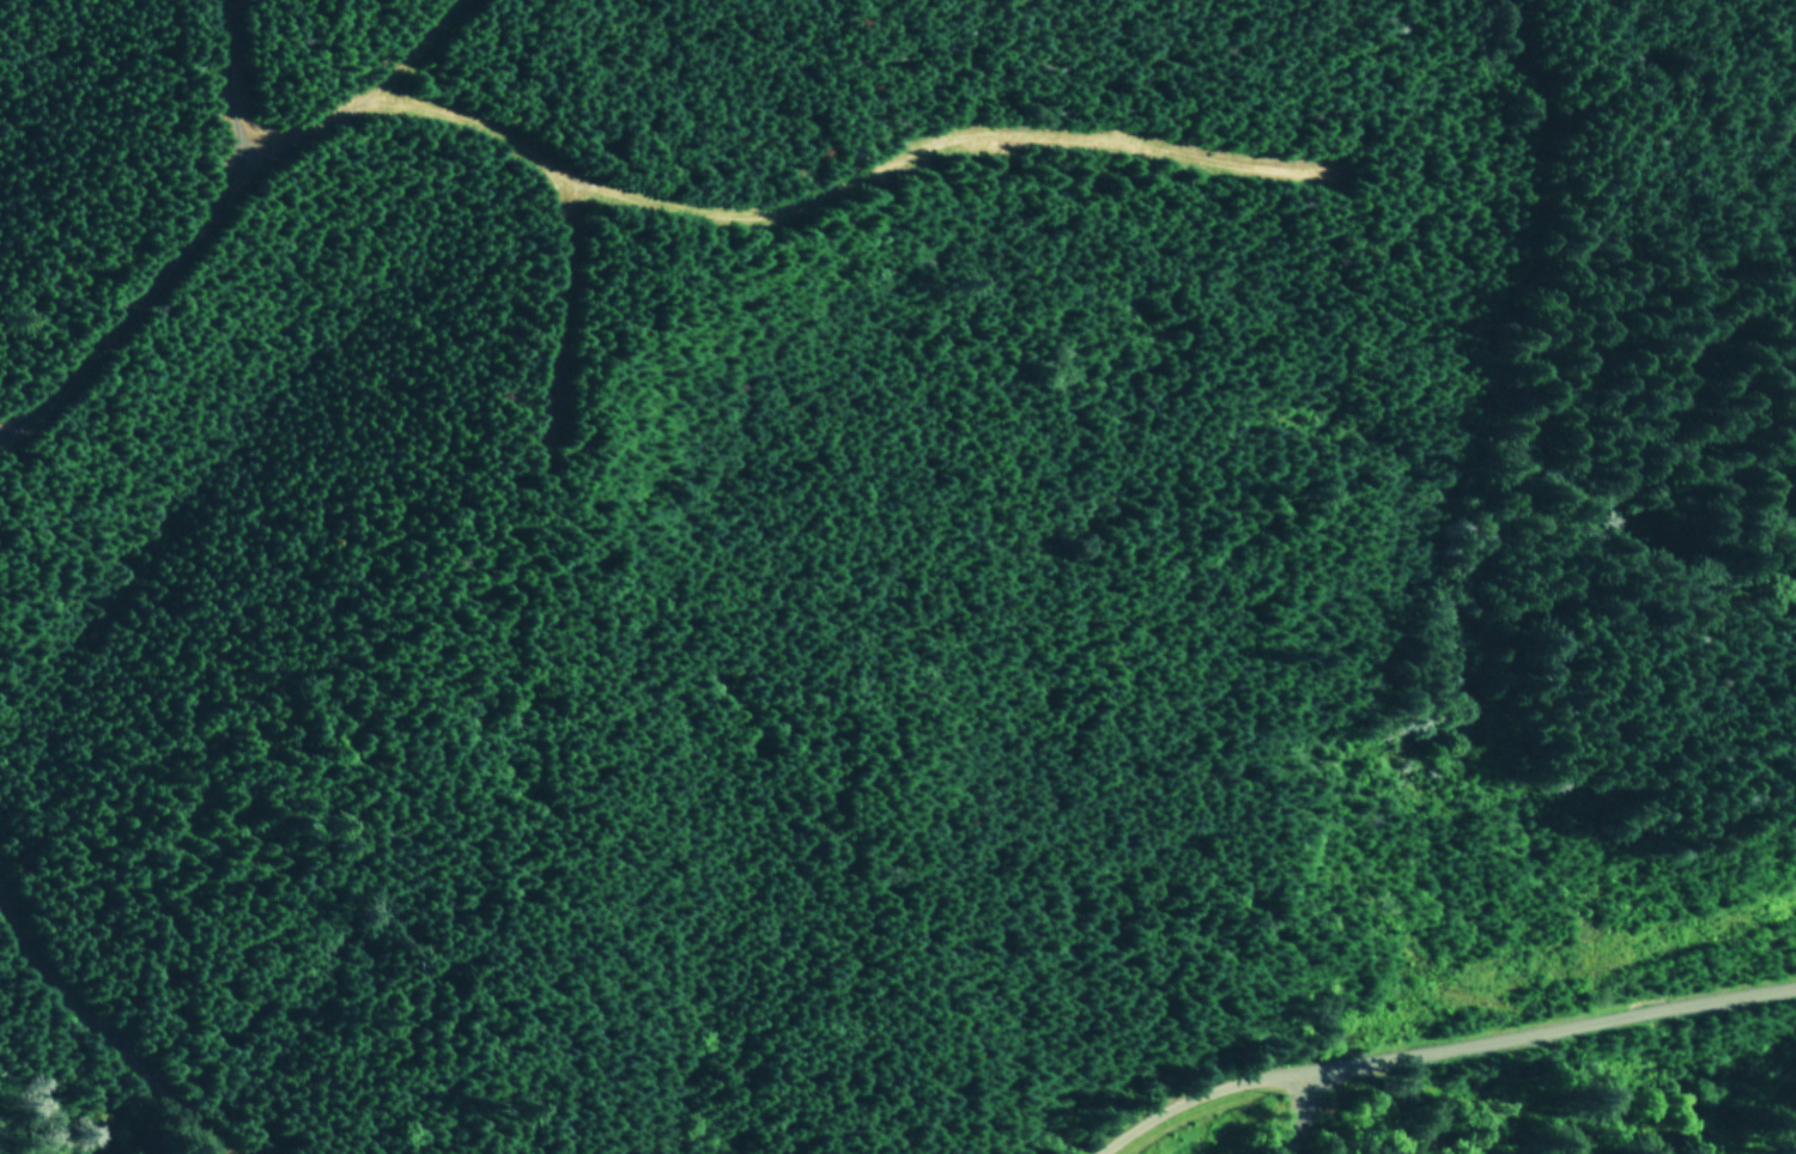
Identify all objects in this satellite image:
road: (108, 1033)
road: (1437, 1046)

